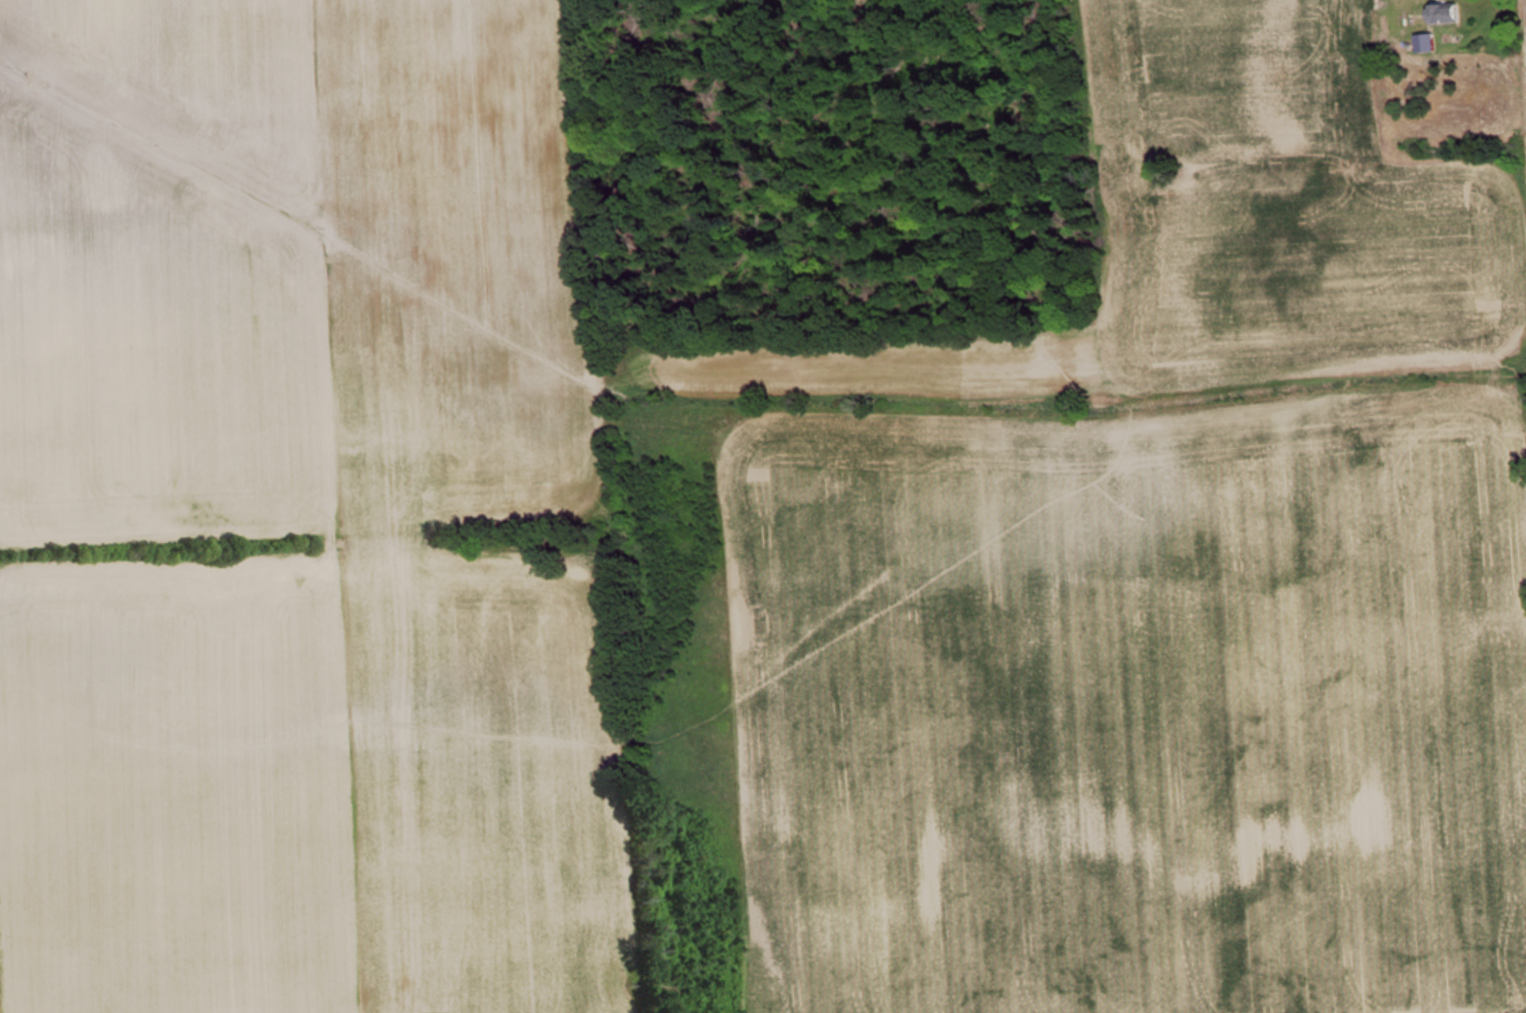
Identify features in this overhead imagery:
building: (1376, 4)
building: (1452, 14)

